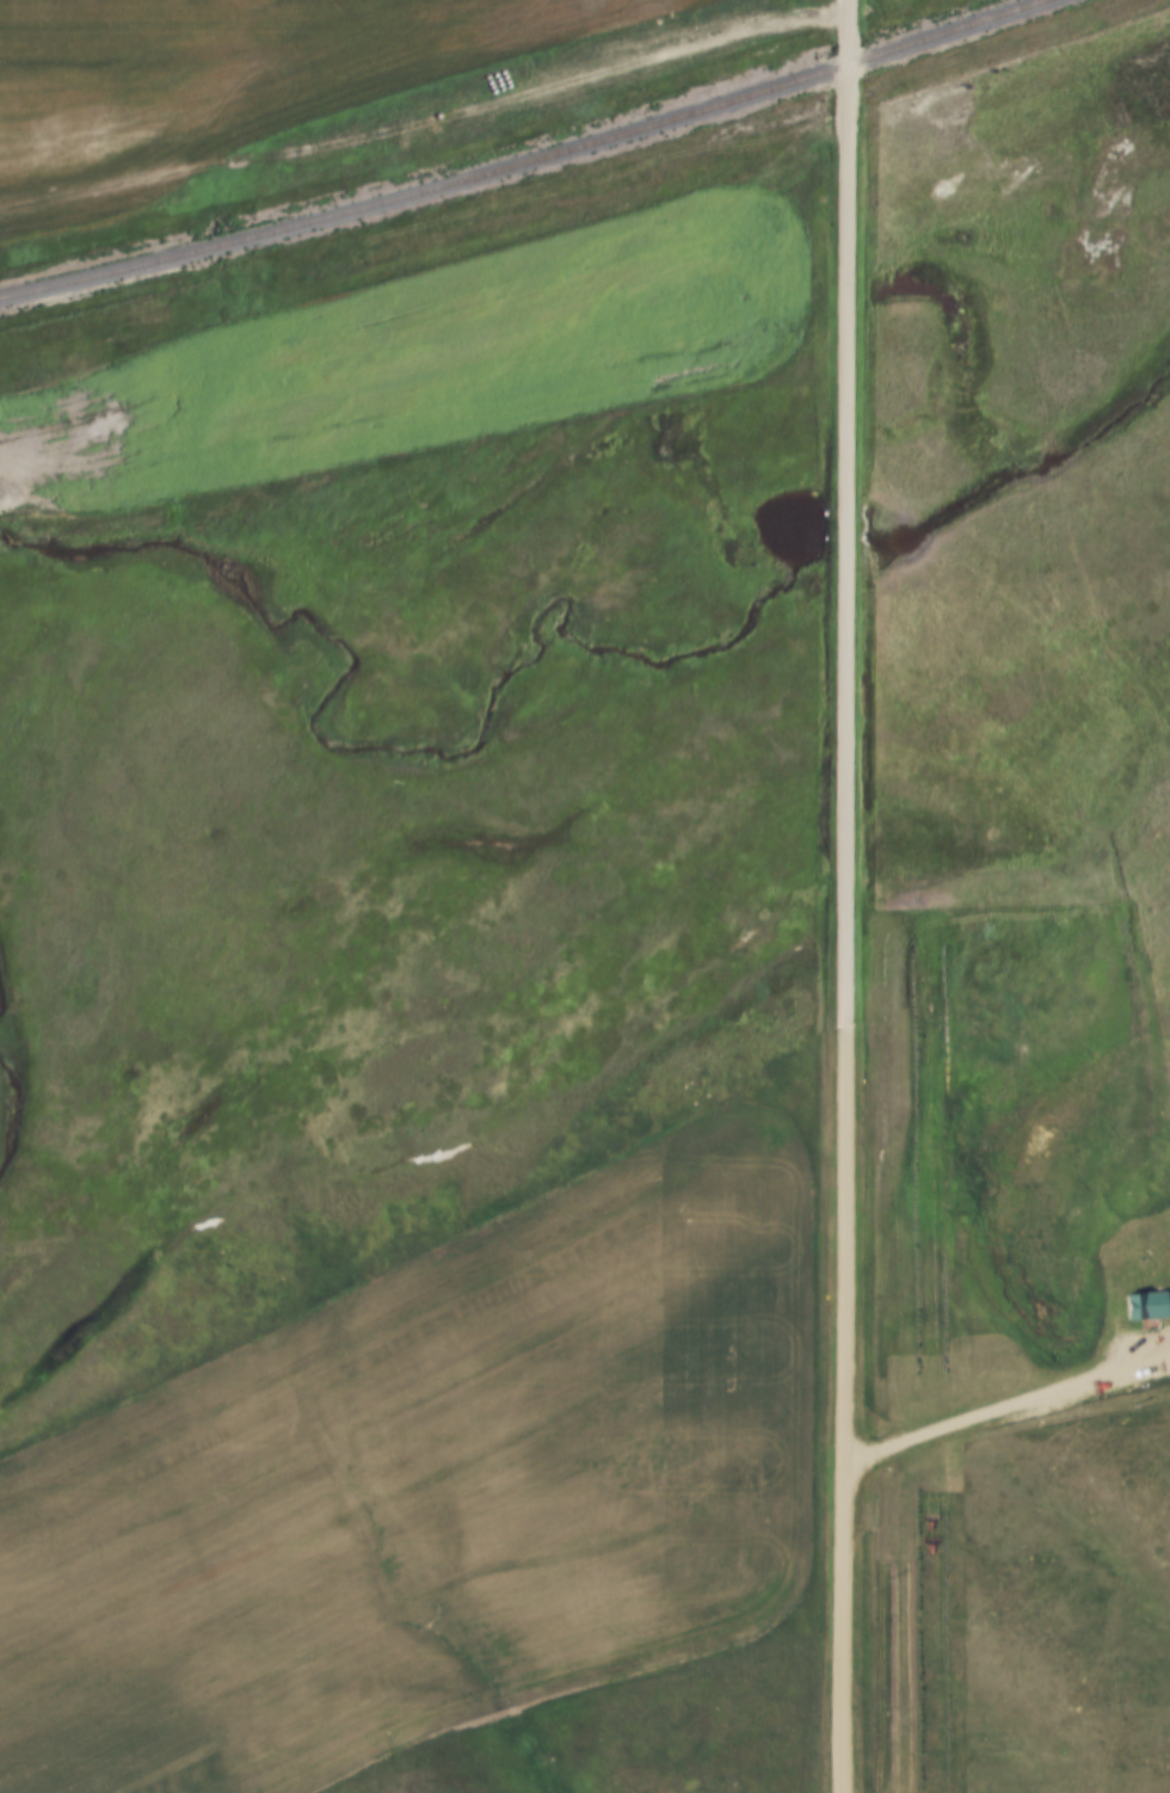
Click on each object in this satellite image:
railway: (515, 158)
road: (839, 897)
building: (1150, 1300)
road: (1003, 1411)

